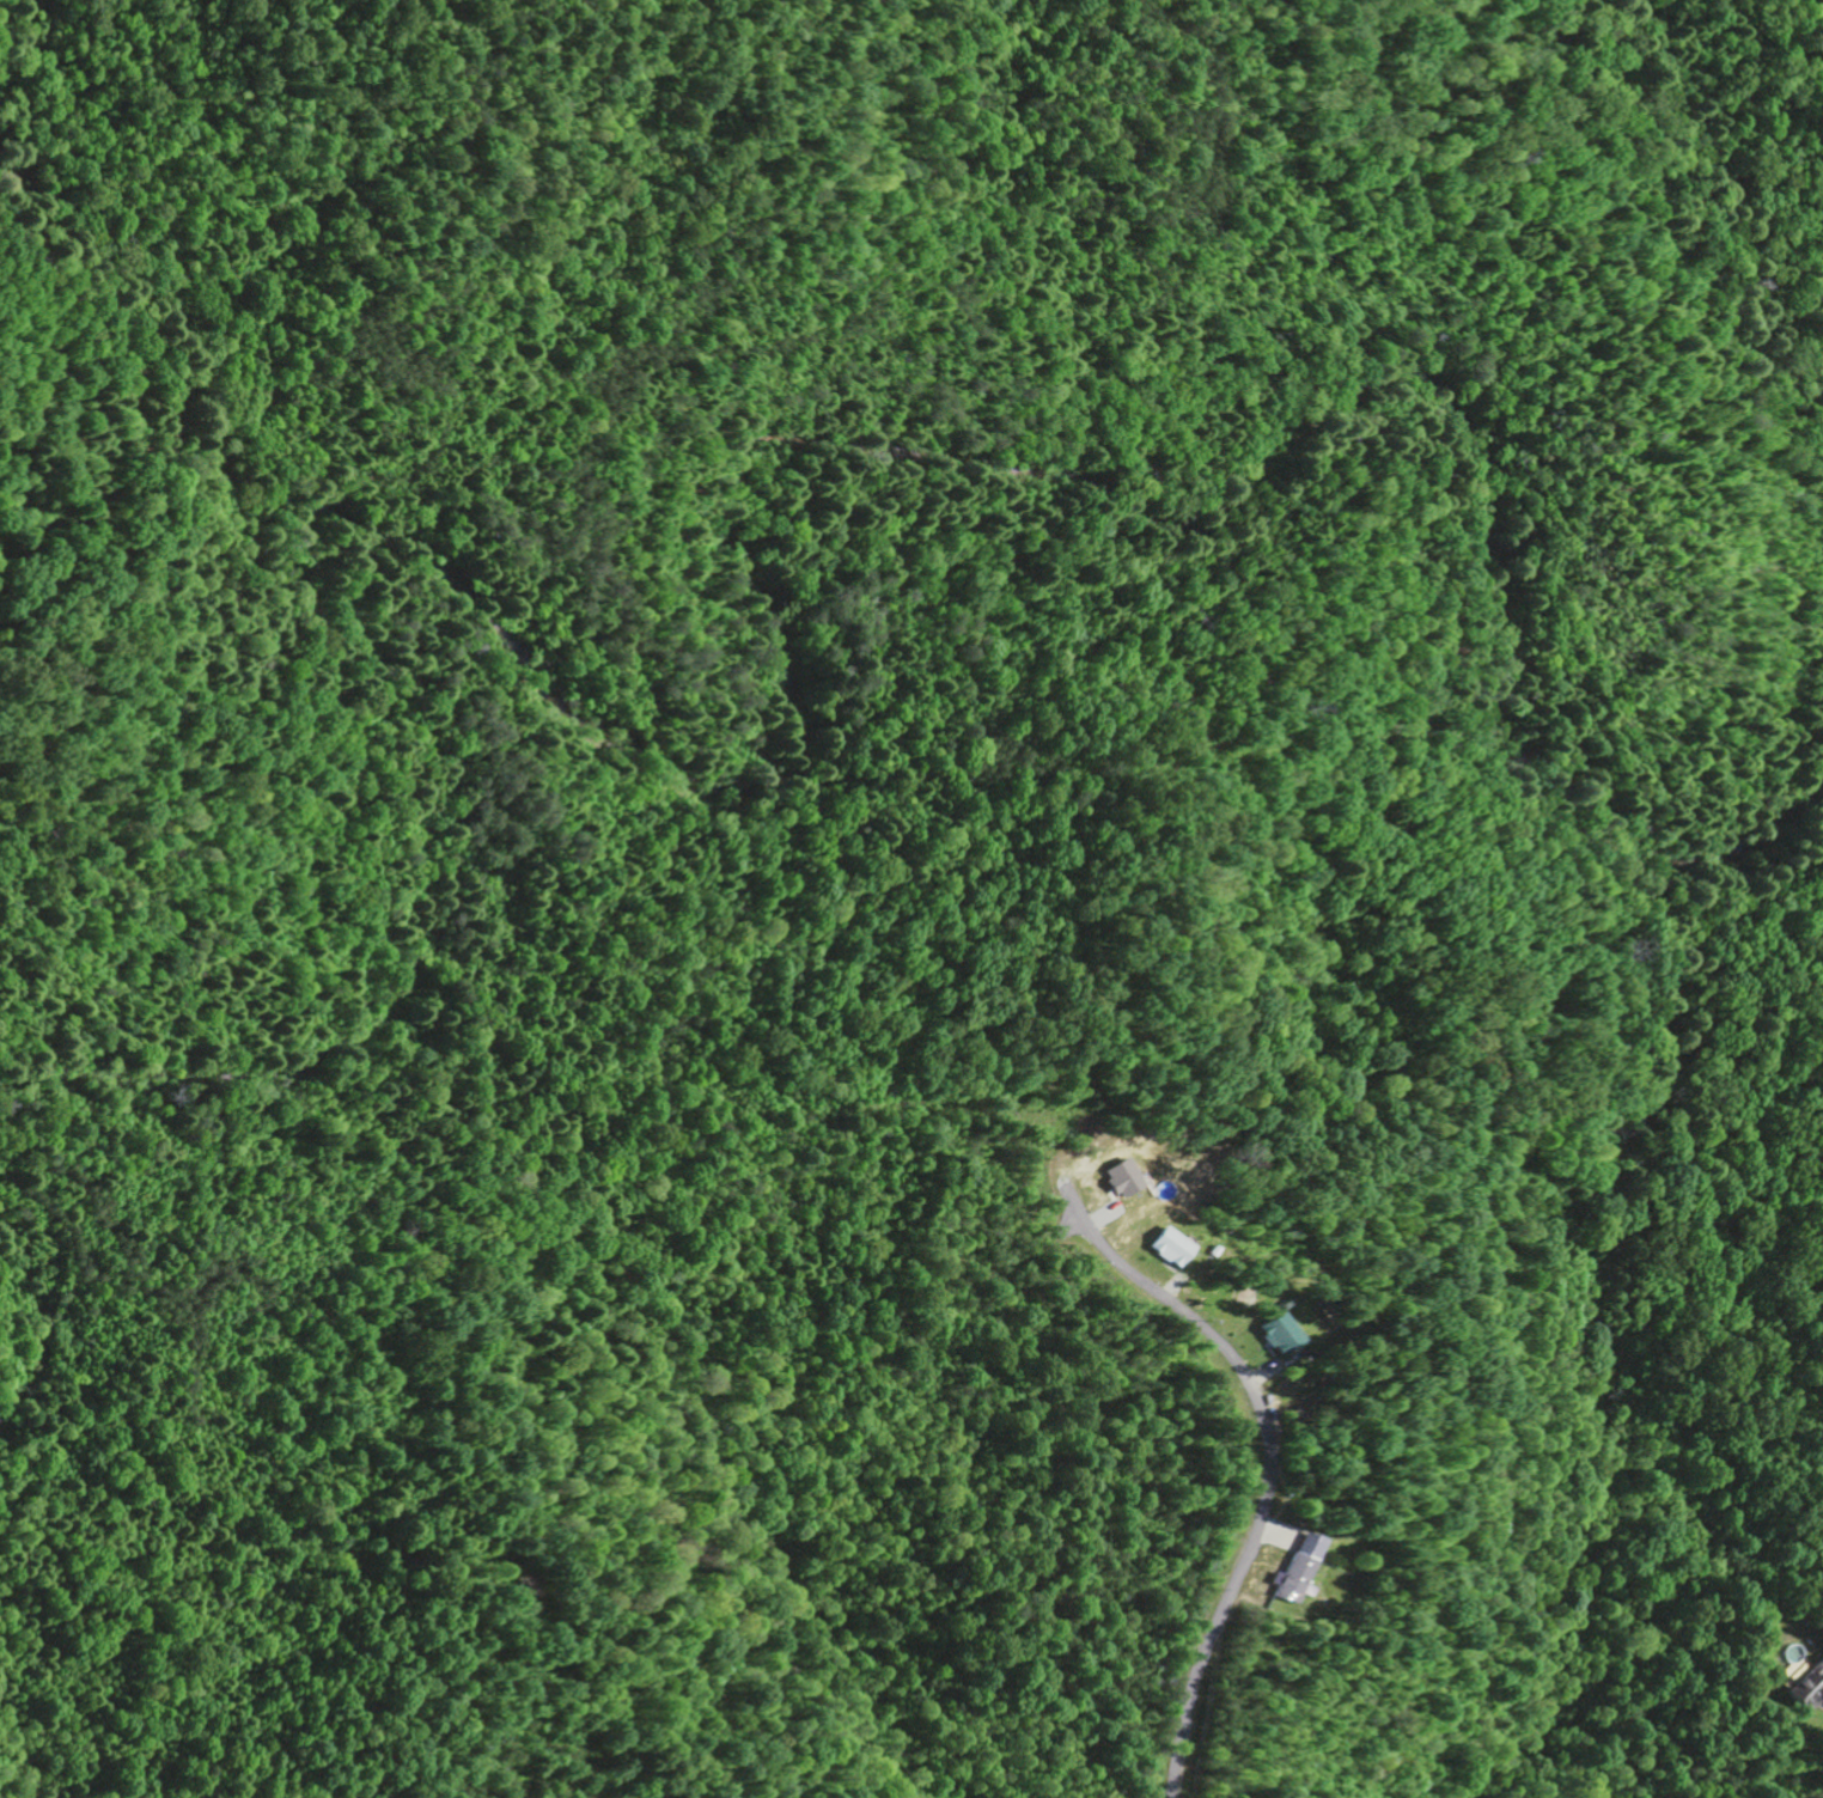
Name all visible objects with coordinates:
building: (1112, 1181)
building: (1163, 1249)
building: (1266, 1336)
road: (1263, 1440)
building: (1287, 1568)
building: (1806, 1689)

